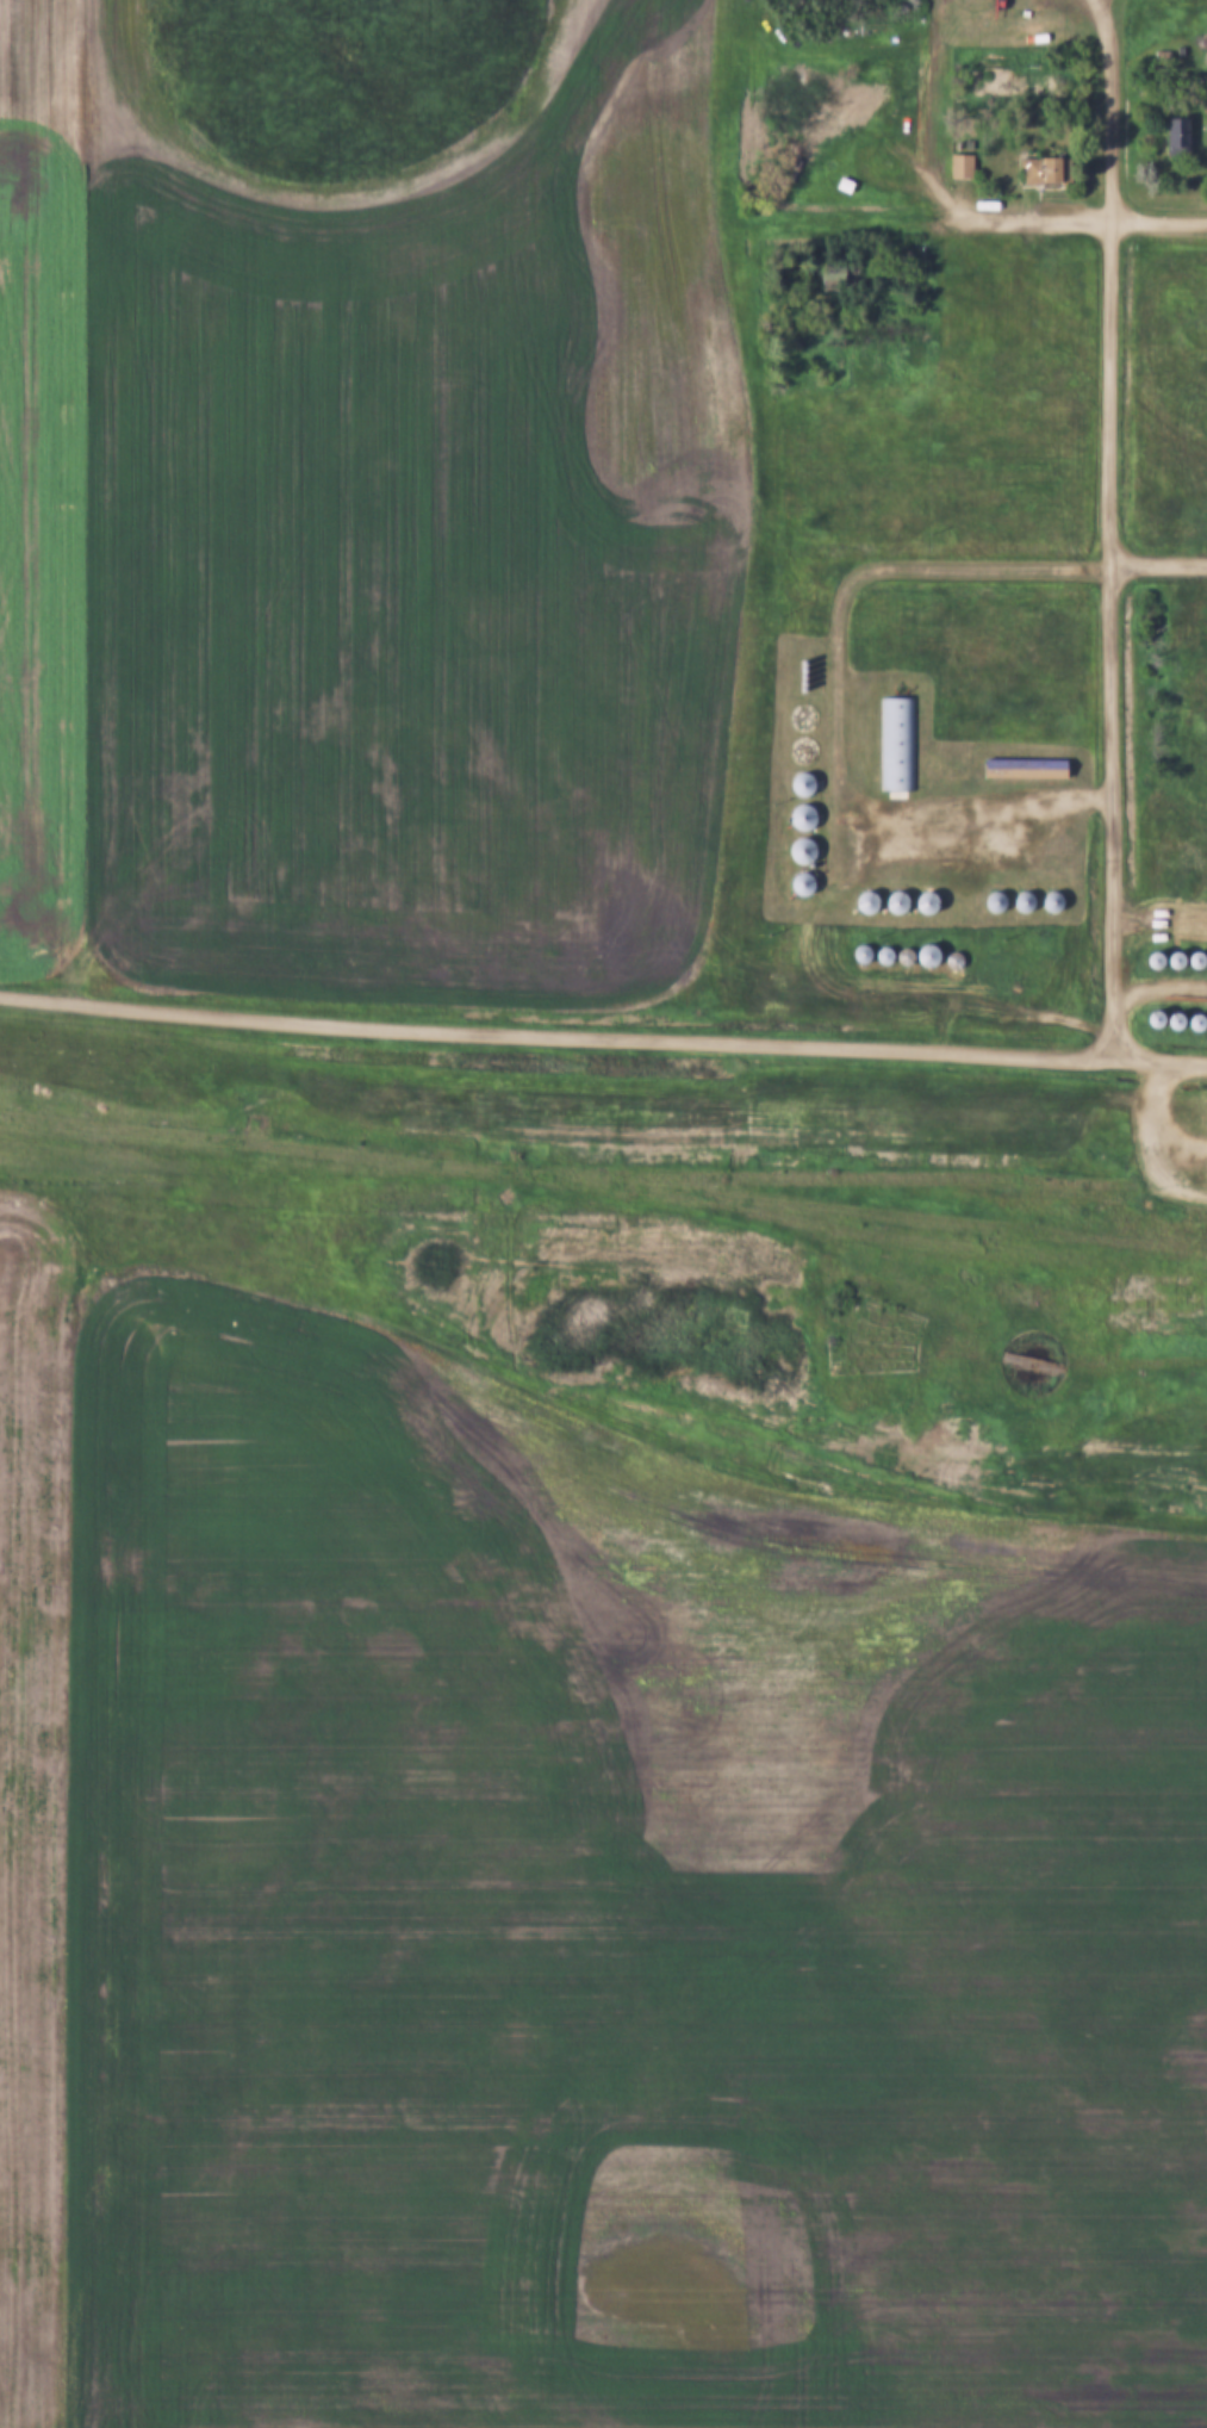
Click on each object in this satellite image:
building: (1170, 128)
building: (954, 163)
building: (1037, 167)
road: (1065, 218)
road: (1112, 526)
road: (1159, 559)
building: (797, 660)
silo: (797, 660)
building: (797, 667)
silo: (797, 667)
building: (796, 673)
silo: (796, 673)
building: (797, 681)
silo: (797, 681)
building: (797, 687)
silo: (797, 687)
road: (838, 690)
building: (891, 744)
building: (1018, 768)
building: (796, 783)
silo: (796, 783)
building: (807, 785)
building: (796, 816)
silo: (796, 816)
building: (795, 850)
silo: (795, 850)
building: (807, 852)
building: (795, 883)
silo: (795, 883)
building: (860, 901)
silo: (860, 901)
building: (920, 901)
silo: (920, 901)
building: (988, 901)
silo: (988, 901)
building: (1016, 901)
silo: (1016, 901)
building: (1045, 901)
silo: (1045, 901)
building: (890, 902)
silo: (890, 902)
building: (854, 952)
silo: (854, 952)
building: (877, 954)
silo: (877, 954)
building: (921, 955)
silo: (921, 955)
building: (897, 956)
silo: (897, 956)
building: (1169, 957)
silo: (1169, 957)
building: (1189, 957)
silo: (1189, 957)
building: (1205, 957)
silo: (1205, 957)
building: (1147, 958)
silo: (1147, 958)
building: (947, 961)
silo: (947, 961)
road: (1161, 983)
building: (1147, 1017)
silo: (1147, 1017)
building: (1168, 1019)
silo: (1168, 1019)
building: (1189, 1020)
silo: (1189, 1020)
building: (1203, 1022)
silo: (1203, 1022)
road: (558, 1030)
road: (1162, 1056)
road: (1157, 1119)

